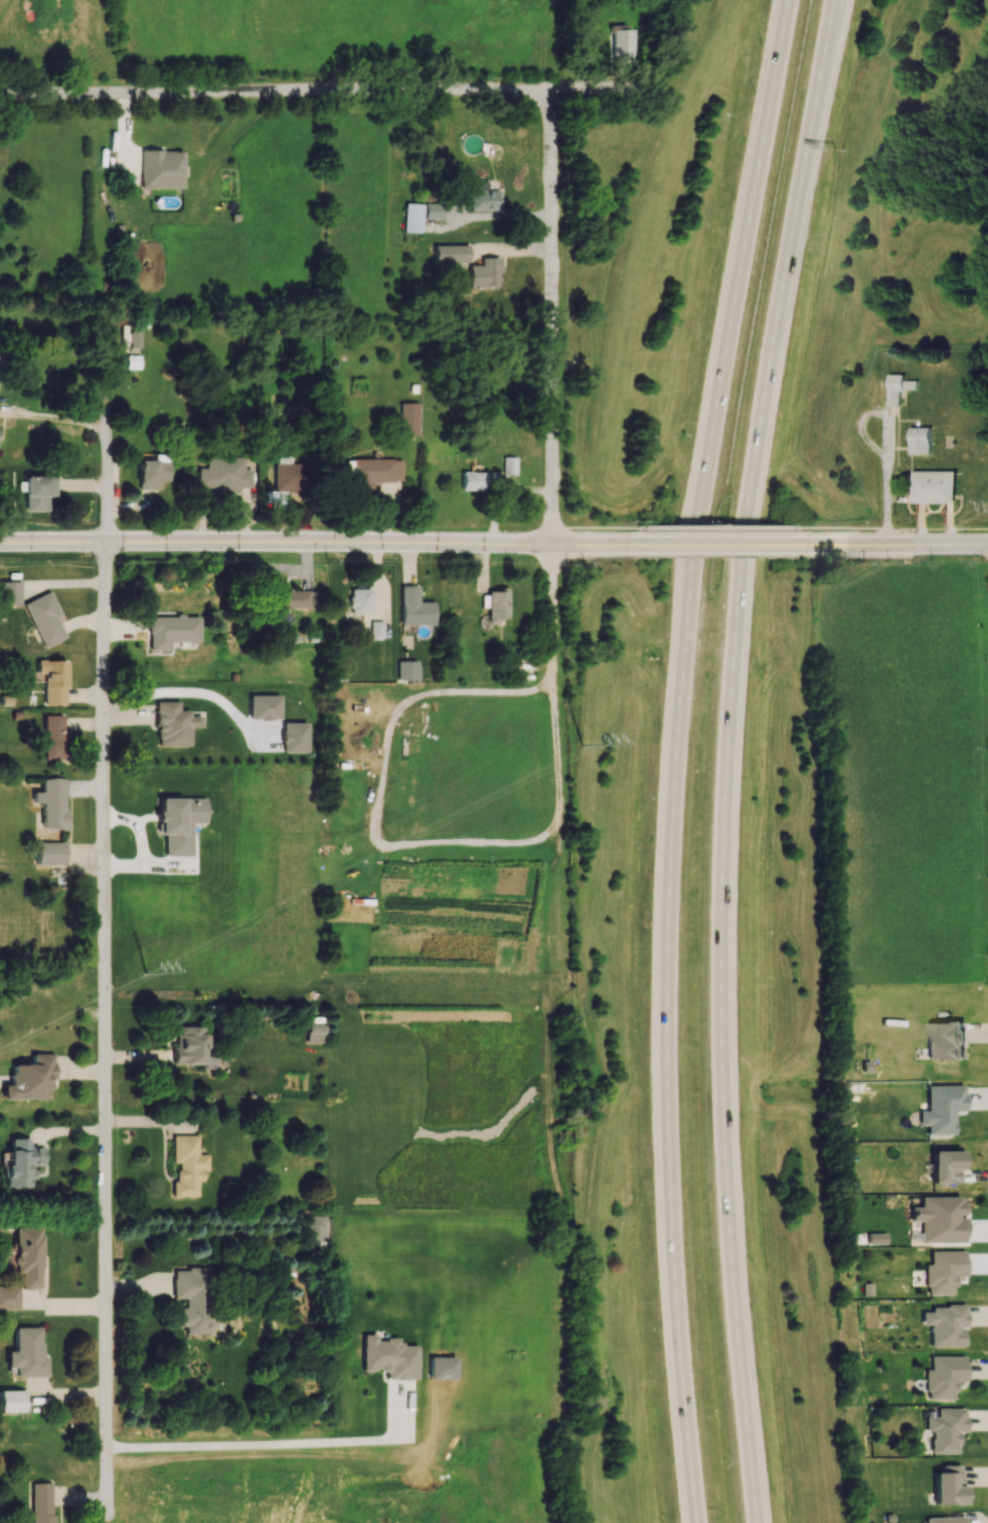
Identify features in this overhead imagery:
building: (620, 45)
road: (325, 96)
building: (161, 169)
building: (483, 199)
building: (419, 215)
building: (450, 253)
building: (485, 272)
road: (553, 320)
building: (133, 352)
building: (898, 387)
road: (54, 416)
building: (408, 419)
building: (920, 440)
road: (888, 441)
building: (509, 465)
road: (105, 467)
building: (374, 472)
building: (151, 473)
building: (224, 473)
building: (291, 475)
building: (479, 481)
building: (933, 485)
building: (37, 491)
road: (886, 503)
road: (593, 527)
road: (713, 527)
road: (839, 527)
road: (52, 542)
road: (328, 542)
road: (587, 544)
road: (897, 544)
road: (714, 545)
building: (9, 593)
building: (293, 600)
building: (359, 600)
building: (496, 603)
building: (414, 607)
road: (552, 618)
building: (44, 619)
building: (373, 628)
building: (171, 631)
building: (407, 670)
building: (51, 680)
road: (481, 691)
building: (173, 724)
building: (53, 737)
power tower: (579, 746)
road: (675, 757)
road: (725, 758)
building: (51, 803)
building: (178, 823)
road: (459, 842)
building: (49, 853)
power tower: (142, 975)
road: (104, 1029)
building: (313, 1033)
building: (945, 1040)
building: (189, 1045)
building: (30, 1079)
building: (941, 1108)
building: (21, 1163)
building: (187, 1164)
building: (946, 1166)
building: (939, 1219)
building: (313, 1227)
building: (875, 1238)
building: (28, 1256)
building: (943, 1271)
building: (8, 1298)
building: (192, 1298)
building: (945, 1325)
building: (27, 1353)
building: (389, 1357)
building: (943, 1376)
building: (11, 1401)
building: (945, 1429)
road: (235, 1443)
building: (947, 1485)
building: (41, 1503)
building: (944, 1520)

